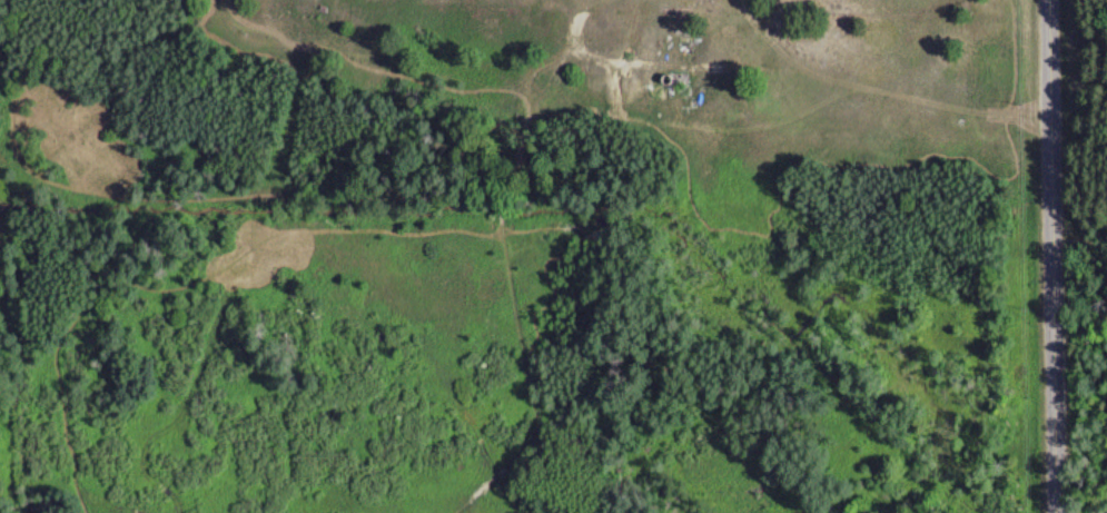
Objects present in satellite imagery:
road: (1050, 256)

